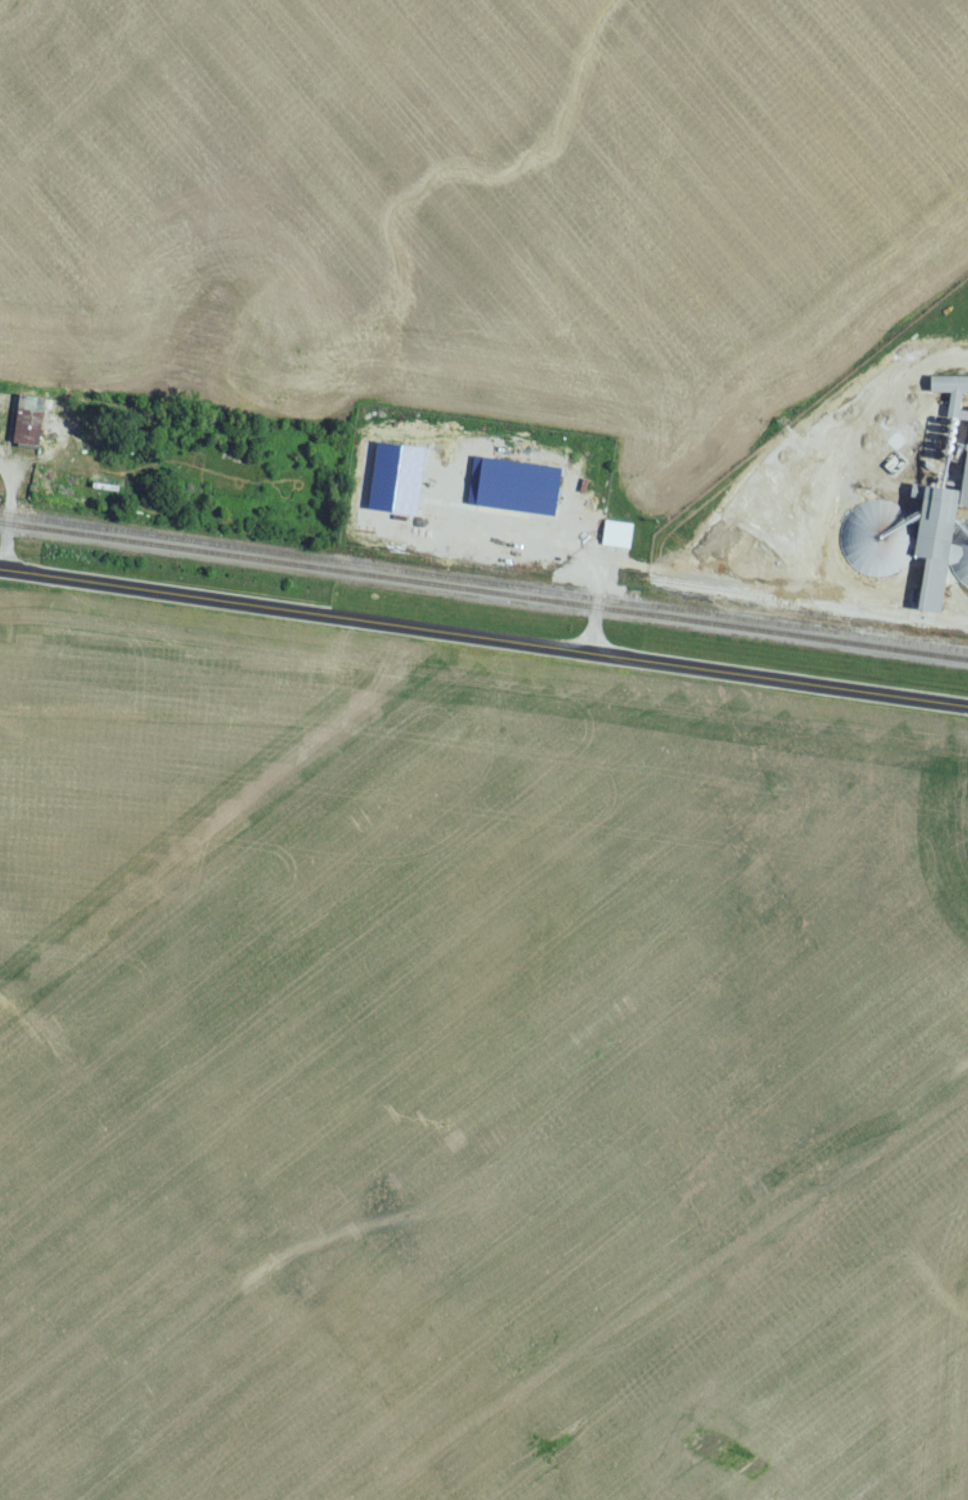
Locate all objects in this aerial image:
building: (5, 402)
building: (31, 426)
road: (8, 471)
road: (10, 528)
building: (925, 528)
building: (619, 540)
railway: (483, 597)
road: (597, 610)
road: (484, 644)

